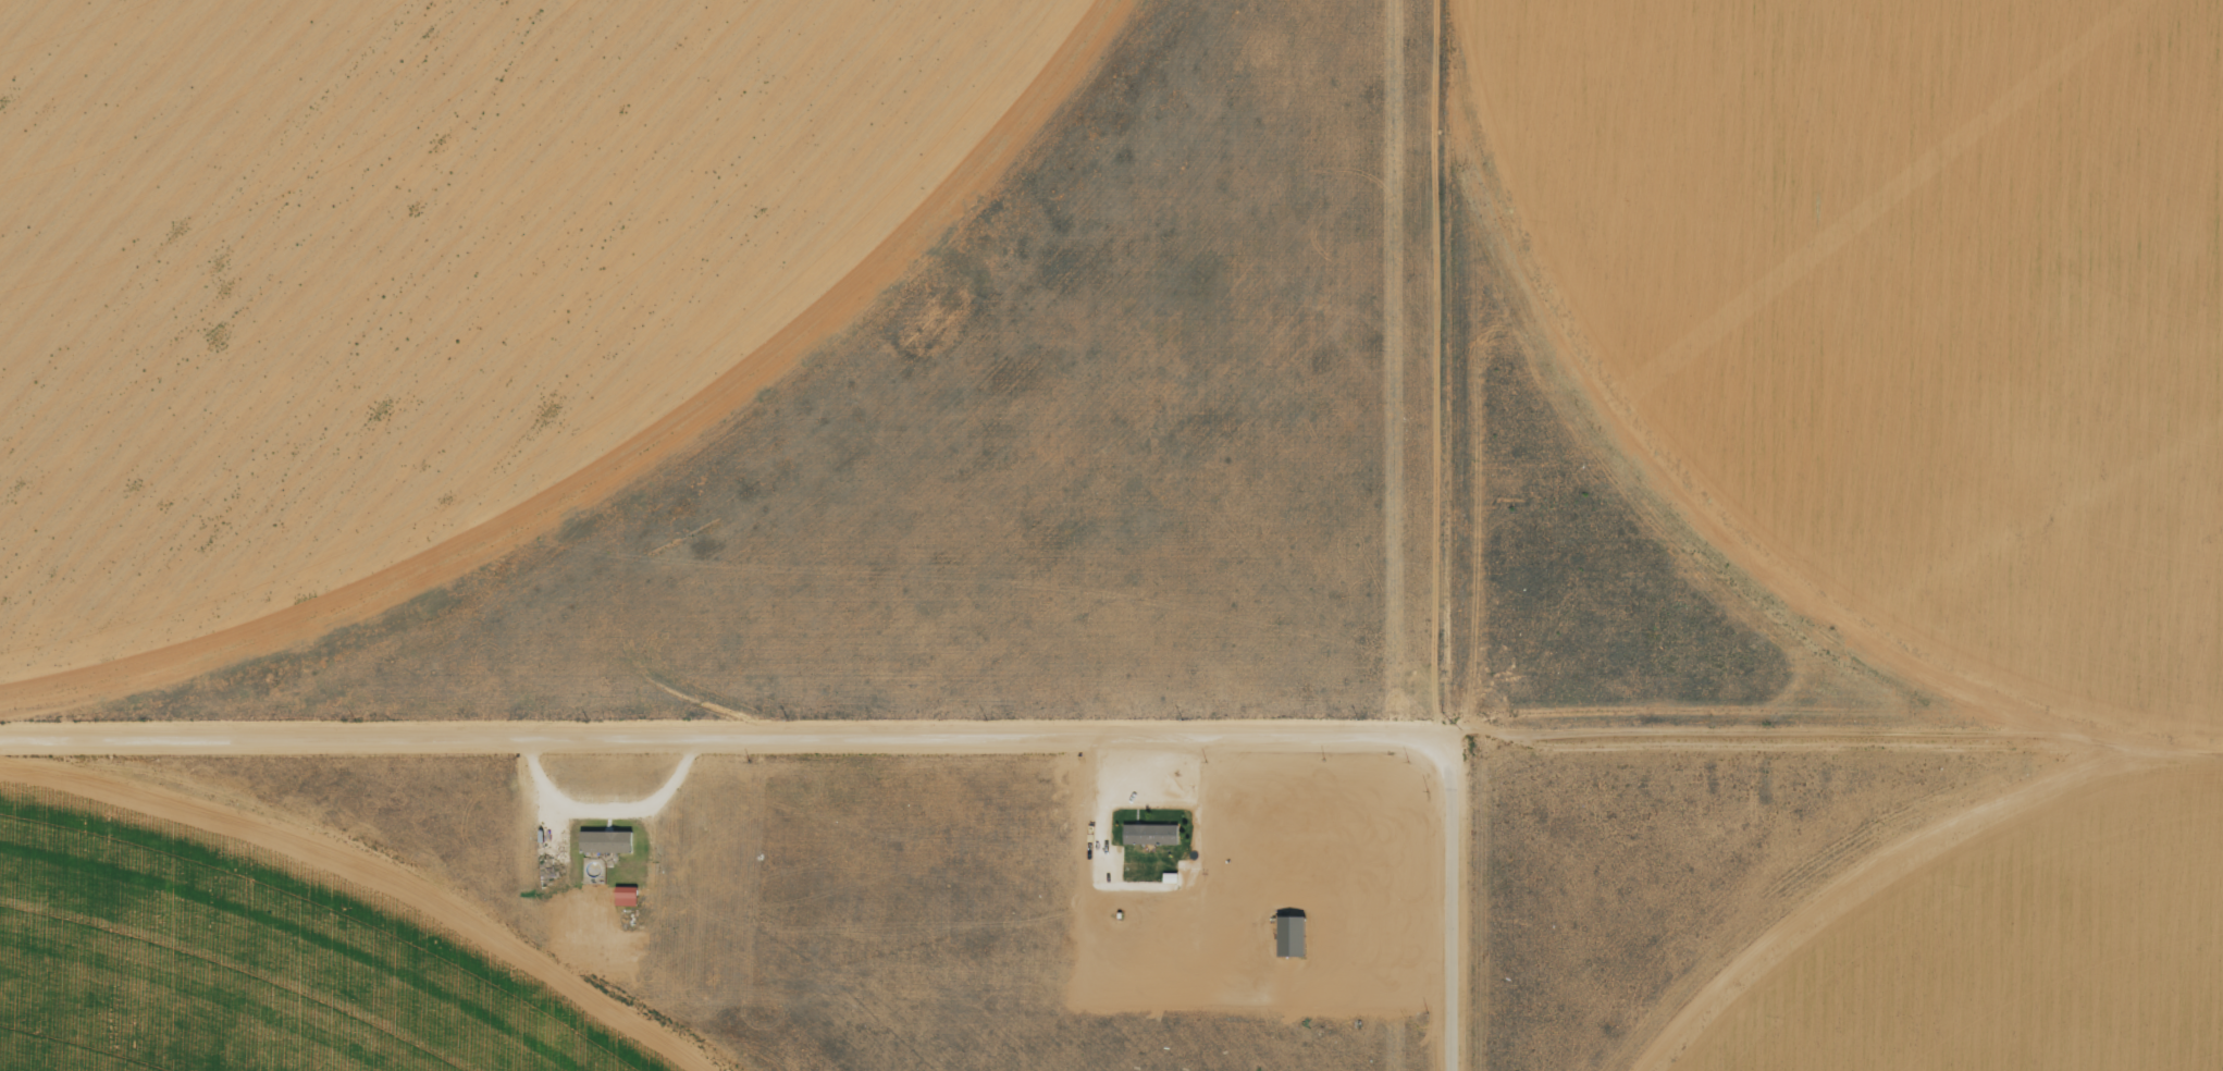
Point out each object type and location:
road: (729, 763)
building: (1152, 834)
building: (609, 841)
building: (628, 896)
building: (1295, 935)
road: (1435, 947)

